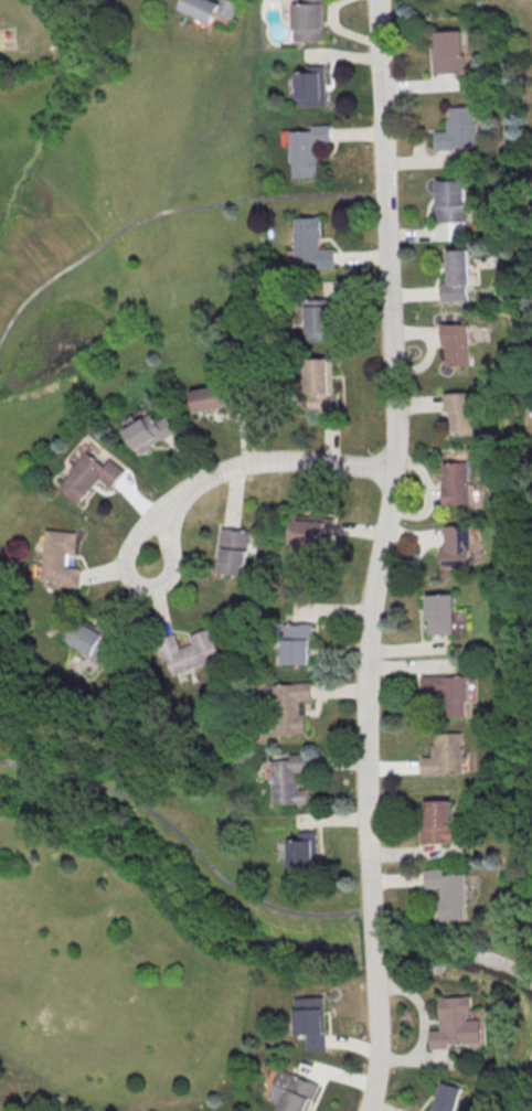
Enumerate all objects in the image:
building: (211, 8)
building: (309, 20)
building: (446, 52)
building: (312, 86)
building: (455, 130)
building: (308, 150)
building: (451, 201)
road: (169, 212)
building: (311, 243)
building: (456, 277)
building: (320, 318)
building: (454, 345)
building: (318, 385)
building: (211, 397)
building: (456, 414)
building: (149, 431)
road: (387, 462)
road: (242, 464)
building: (92, 476)
building: (449, 482)
building: (309, 528)
building: (450, 545)
building: (235, 551)
building: (61, 557)
park: (9, 563)
building: (436, 613)
building: (88, 639)
building: (299, 644)
building: (192, 651)
building: (445, 692)
building: (292, 708)
building: (443, 755)
building: (291, 780)
building: (440, 822)
road: (190, 843)
building: (306, 852)
building: (450, 893)
road: (376, 948)
building: (311, 1022)
building: (458, 1024)
road: (379, 1040)
building: (294, 1091)
building: (449, 1097)

